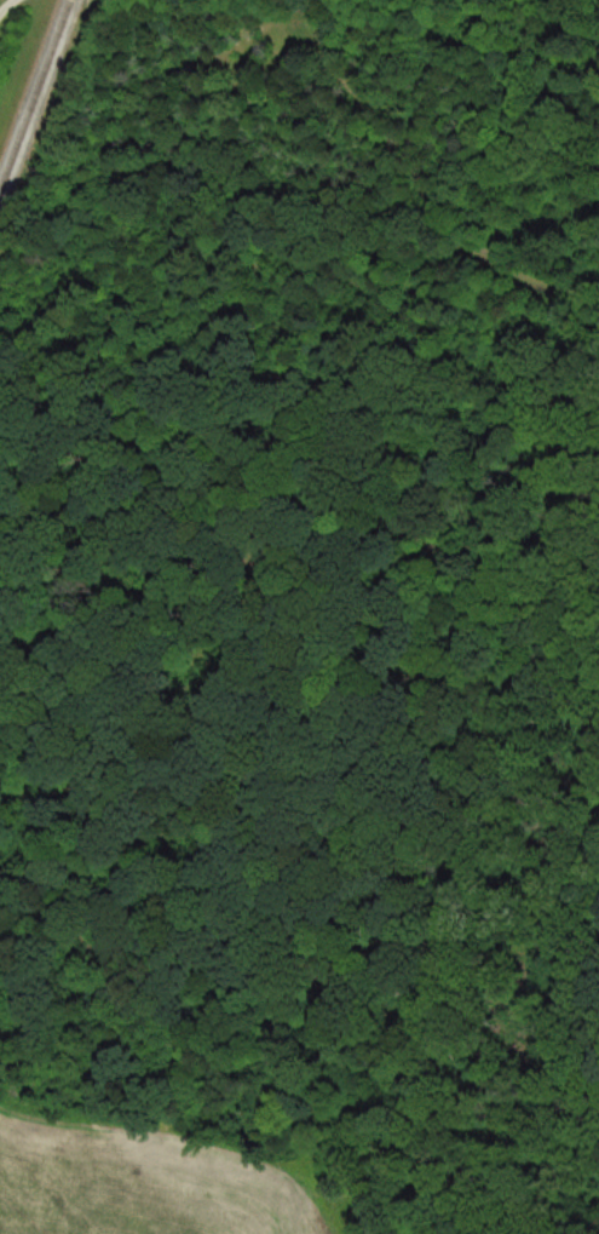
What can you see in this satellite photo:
road: (7, 6)
railway: (34, 94)

